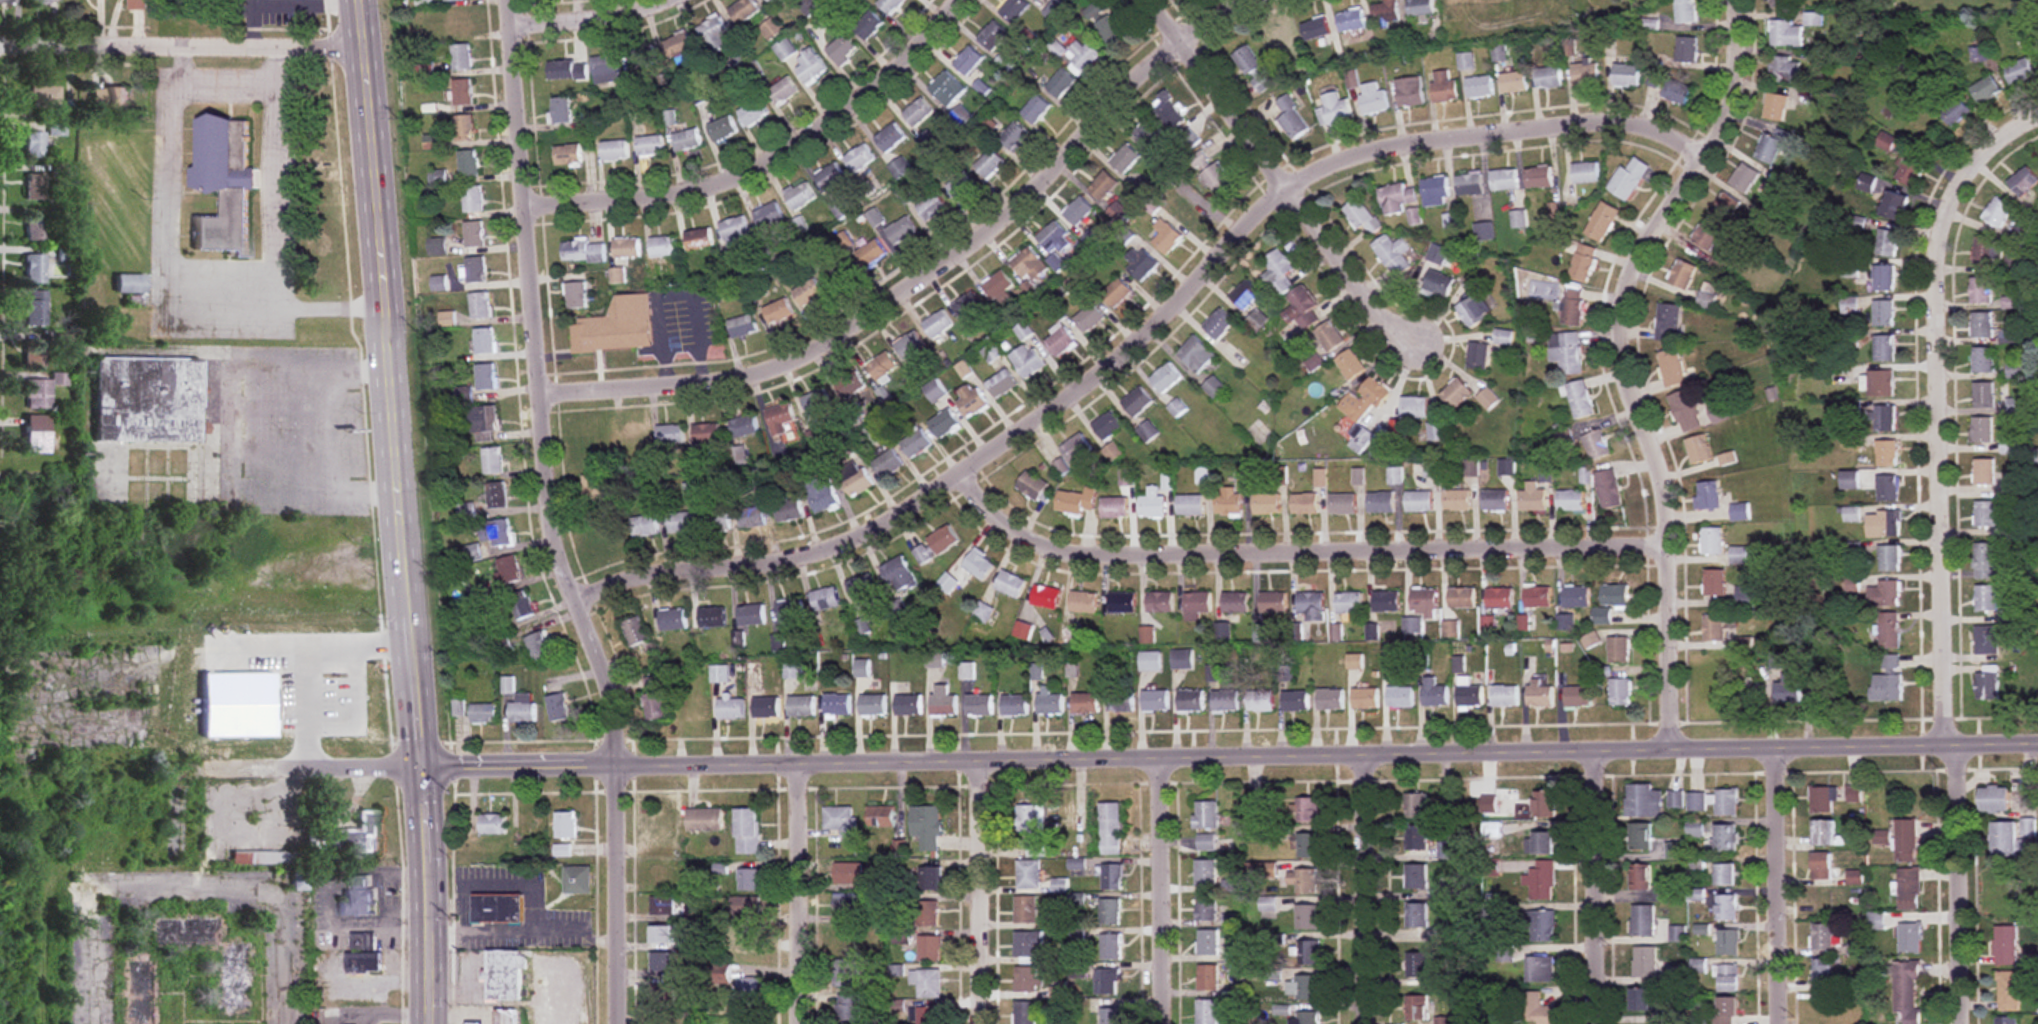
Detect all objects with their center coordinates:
building: (453, 0)
building: (772, 0)
building: (41, 1)
building: (7, 2)
building: (136, 4)
building: (1780, 4)
building: (891, 5)
park: (1956, 5)
building: (1421, 7)
building: (1015, 9)
building: (1056, 10)
building: (744, 11)
building: (1686, 11)
building: (1095, 12)
building: (1386, 12)
road: (597, 16)
building: (1351, 19)
building: (458, 22)
building: (869, 25)
building: (773, 28)
building: (1315, 28)
building: (1108, 30)
building: (1786, 34)
building: (715, 35)
building: (993, 36)
building: (1279, 40)
building: (679, 45)
road: (180, 48)
building: (842, 48)
building: (785, 49)
building: (1687, 49)
building: (1500, 53)
building: (461, 57)
building: (643, 57)
building: (1082, 57)
building: (969, 61)
building: (1466, 62)
building: (811, 67)
building: (1253, 69)
building: (607, 70)
building: (1785, 70)
building: (567, 71)
building: (2020, 73)
building: (1586, 74)
building: (1626, 75)
building: (1549, 77)
road: (222, 81)
building: (1514, 82)
building: (1059, 84)
building: (1480, 86)
building: (1444, 87)
building: (947, 89)
building: (1986, 90)
building: (463, 92)
building: (783, 92)
building: (1410, 92)
building: (1677, 92)
building: (40, 96)
building: (108, 96)
building: (1373, 98)
building: (1776, 107)
building: (706, 110)
building: (1035, 110)
building: (1334, 110)
building: (561, 111)
building: (1167, 111)
building: (919, 112)
building: (1956, 112)
building: (754, 113)
building: (961, 117)
building: (1291, 119)
building: (465, 128)
building: (56, 129)
building: (722, 130)
building: (1146, 133)
building: (1013, 137)
building: (890, 138)
building: (688, 141)
building: (1189, 141)
building: (33, 145)
building: (1771, 146)
building: (650, 147)
building: (615, 152)
building: (568, 155)
building: (860, 158)
building: (1124, 159)
road: (778, 160)
building: (1198, 161)
building: (469, 163)
building: (988, 164)
building: (1910, 171)
building: (1586, 173)
road: (269, 176)
building: (830, 176)
building: (1538, 177)
building: (438, 178)
building: (1217, 178)
building: (1629, 178)
building: (1745, 178)
building: (1504, 180)
building: (2024, 182)
building: (222, 183)
road: (1272, 184)
building: (1470, 184)
building: (961, 186)
building: (1102, 186)
building: (34, 187)
building: (1435, 191)
building: (801, 196)
building: (473, 199)
building: (1396, 199)
building: (1896, 205)
building: (931, 207)
building: (1725, 207)
building: (1077, 211)
building: (1191, 212)
building: (1998, 212)
building: (1358, 213)
building: (769, 215)
building: (874, 218)
building: (1518, 219)
building: (1602, 222)
building: (34, 227)
building: (734, 231)
building: (900, 231)
building: (1483, 231)
building: (474, 234)
building: (1708, 234)
building: (1166, 237)
building: (1053, 238)
building: (699, 239)
building: (1888, 242)
building: (437, 246)
building: (664, 247)
building: (627, 248)
building: (584, 252)
building: (1988, 252)
building: (870, 253)
building: (1438, 254)
building: (1393, 255)
building: (1581, 261)
building: (1140, 263)
building: (1028, 265)
building: (1718, 265)
building: (34, 268)
building: (1851, 268)
building: (475, 269)
road: (937, 269)
building: (1278, 272)
building: (839, 273)
building: (1682, 274)
building: (618, 276)
building: (1884, 277)
building: (128, 283)
building: (438, 283)
building: (1438, 283)
building: (997, 286)
road: (167, 288)
building: (1981, 290)
building: (807, 292)
building: (1117, 293)
building: (1246, 293)
building: (576, 295)
building: (1707, 297)
building: (2010, 302)
building: (480, 305)
building: (1472, 305)
building: (966, 306)
building: (1301, 307)
building: (1573, 307)
building: (34, 309)
building: (777, 311)
building: (1884, 313)
building: (1089, 318)
building: (1257, 320)
building: (1219, 323)
building: (1668, 323)
building: (937, 324)
building: (1982, 324)
building: (742, 326)
building: (615, 327)
building: (1329, 336)
road: (1142, 337)
building: (1504, 337)
building: (484, 341)
building: (1061, 342)
building: (909, 345)
building: (1885, 348)
building: (33, 353)
building: (992, 353)
building: (1566, 353)
building: (1196, 354)
building: (1478, 356)
building: (1983, 360)
building: (1028, 361)
road: (1626, 362)
building: (1350, 364)
building: (881, 366)
building: (1672, 369)
building: (485, 377)
building: (1165, 378)
building: (1881, 383)
building: (848, 385)
building: (1002, 385)
building: (1214, 387)
building: (41, 391)
building: (1455, 393)
building: (1984, 396)
building: (146, 399)
building: (1488, 399)
building: (970, 400)
building: (1364, 400)
building: (1580, 400)
building: (815, 402)
building: (1137, 402)
building: (1177, 408)
building: (1414, 408)
building: (1685, 412)
road: (1943, 412)
building: (1885, 418)
building: (781, 422)
building: (484, 424)
building: (944, 424)
building: (1108, 425)
building: (743, 427)
road: (256, 429)
building: (1983, 430)
building: (1437, 431)
building: (705, 433)
building: (876, 433)
building: (34, 434)
building: (670, 435)
building: (635, 436)
building: (1360, 438)
building: (915, 444)
building: (1596, 446)
building: (1076, 449)
building: (1698, 450)
building: (1887, 453)
building: (737, 455)
building: (2035, 457)
building: (492, 460)
building: (887, 463)
building: (1470, 467)
building: (1505, 467)
building: (1984, 472)
building: (1203, 474)
building: (1127, 477)
building: (857, 484)
building: (763, 485)
building: (1032, 486)
building: (592, 488)
building: (1888, 488)
building: (1608, 489)
building: (496, 495)
building: (821, 495)
building: (1707, 496)
building: (614, 497)
building: (1532, 497)
building: (1456, 500)
building: (1494, 500)
building: (1570, 500)
building: (1076, 501)
building: (1228, 502)
building: (1418, 502)
building: (1380, 503)
building: (1152, 504)
building: (1266, 504)
building: (1304, 504)
building: (1342, 504)
building: (1190, 505)
building: (1114, 507)
road: (406, 510)
building: (788, 511)
building: (1739, 512)
building: (1985, 514)
road: (554, 515)
building: (753, 517)
building: (716, 521)
building: (681, 522)
building: (1884, 524)
building: (644, 526)
building: (495, 531)
building: (1711, 541)
building: (935, 546)
building: (472, 552)
road: (1304, 552)
building: (1739, 556)
building: (1890, 558)
building: (1986, 561)
building: (977, 566)
building: (507, 569)
building: (897, 575)
building: (1714, 582)
building: (1010, 585)
building: (861, 588)
building: (1885, 594)
building: (1537, 596)
building: (1576, 596)
building: (1045, 597)
building: (1461, 598)
building: (1498, 598)
building: (1744, 598)
building: (1986, 599)
building: (824, 600)
building: (1159, 602)
building: (1386, 602)
building: (1083, 603)
building: (1121, 603)
building: (1235, 603)
building: (1348, 603)
building: (1610, 603)
building: (521, 604)
building: (1196, 604)
building: (1272, 604)
building: (1311, 607)
building: (1420, 609)
building: (788, 611)
building: (983, 613)
building: (750, 616)
building: (711, 617)
building: (672, 620)
building: (1713, 629)
building: (1889, 631)
building: (635, 632)
building: (1023, 632)
building: (1071, 636)
building: (1987, 640)
building: (538, 646)
building: (1617, 650)
road: (309, 653)
building: (1182, 659)
building: (719, 674)
building: (1888, 681)
building: (1988, 684)
building: (1788, 689)
building: (304, 692)
building: (1620, 692)
building: (1822, 692)
building: (1434, 693)
building: (1539, 695)
building: (1470, 696)
building: (1504, 696)
building: (1400, 697)
building: (1577, 697)
building: (1365, 699)
building: (1330, 700)
building: (1155, 701)
building: (1190, 701)
building: (1225, 701)
building: (943, 702)
building: (1049, 702)
building: (1121, 702)
building: (1261, 702)
building: (1295, 702)
building: (1085, 703)
building: (234, 704)
building: (837, 705)
building: (978, 705)
building: (1014, 705)
building: (872, 706)
building: (908, 706)
building: (654, 707)
building: (801, 707)
building: (458, 708)
building: (557, 708)
building: (765, 708)
building: (522, 709)
building: (730, 709)
building: (694, 710)
building: (483, 713)
road: (1229, 755)
road: (316, 768)
traffic signals: (420, 768)
building: (1675, 800)
building: (1823, 800)
building: (1995, 800)
building: (1643, 801)
building: (1714, 802)
building: (1489, 805)
building: (1544, 805)
building: (1416, 806)
building: (1307, 811)
building: (1067, 814)
building: (1206, 816)
building: (881, 817)
building: (704, 820)
building: (840, 821)
building: (493, 825)
building: (565, 826)
building: (662, 826)
building: (926, 827)
building: (1033, 828)
building: (1111, 829)
building: (746, 831)
building: (1825, 833)
building: (1640, 837)
building: (1416, 838)
building: (1727, 838)
building: (347, 839)
building: (2008, 841)
building: (1906, 842)
building: (1206, 843)
building: (1544, 845)
building: (1308, 846)
building: (563, 851)
building: (1673, 851)
building: (264, 858)
building: (1821, 867)
building: (1205, 873)
building: (849, 874)
building: (1029, 875)
building: (1726, 875)
building: (667, 876)
building: (1112, 877)
building: (1416, 877)
building: (1640, 878)
building: (299, 879)
building: (930, 879)
building: (748, 880)
building: (577, 881)
building: (1302, 881)
building: (1540, 882)
road: (1957, 884)
road: (1777, 885)
road: (1595, 887)
road: (1362, 889)
road: (1157, 890)
building: (1909, 890)
road: (976, 893)
road: (188, 894)
road: (796, 894)
building: (356, 896)
building: (1828, 902)
building: (847, 904)
building: (663, 906)
building: (743, 907)
building: (1205, 908)
building: (1726, 908)
building: (497, 909)
building: (1026, 910)
building: (1109, 912)
building: (1491, 913)
building: (926, 915)
building: (1416, 916)
building: (1306, 918)
building: (1642, 921)
building: (1542, 927)
building: (749, 934)
building: (1678, 934)
building: (661, 937)
building: (1822, 938)
building: (846, 939)
building: (1910, 939)
building: (1207, 943)
building: (1728, 943)
building: (1027, 944)
building: (2005, 946)
building: (1110, 947)
building: (929, 949)
building: (362, 954)
building: (1308, 954)
building: (1505, 955)
building: (663, 964)
building: (1648, 964)
building: (1416, 965)
building: (1540, 970)
building: (1823, 972)
building: (846, 973)
building: (720, 974)
building: (504, 976)
building: (1727, 978)
building: (1208, 979)
building: (230, 980)
building: (1027, 980)
building: (1106, 982)
building: (927, 983)
building: (1302, 989)
building: (748, 991)
building: (1907, 991)
building: (2009, 991)
building: (139, 992)
building: (661, 994)
building: (1644, 1001)
building: (1416, 1008)
building: (1827, 1008)
building: (847, 1009)
building: (1533, 1009)
building: (1726, 1011)
building: (1206, 1012)
building: (1025, 1013)
building: (925, 1015)
building: (1112, 1015)
building: (1671, 1016)
building: (506, 1017)
building: (1305, 1017)
building: (2005, 1020)
building: (1442, 1021)
building: (474, 1023)

